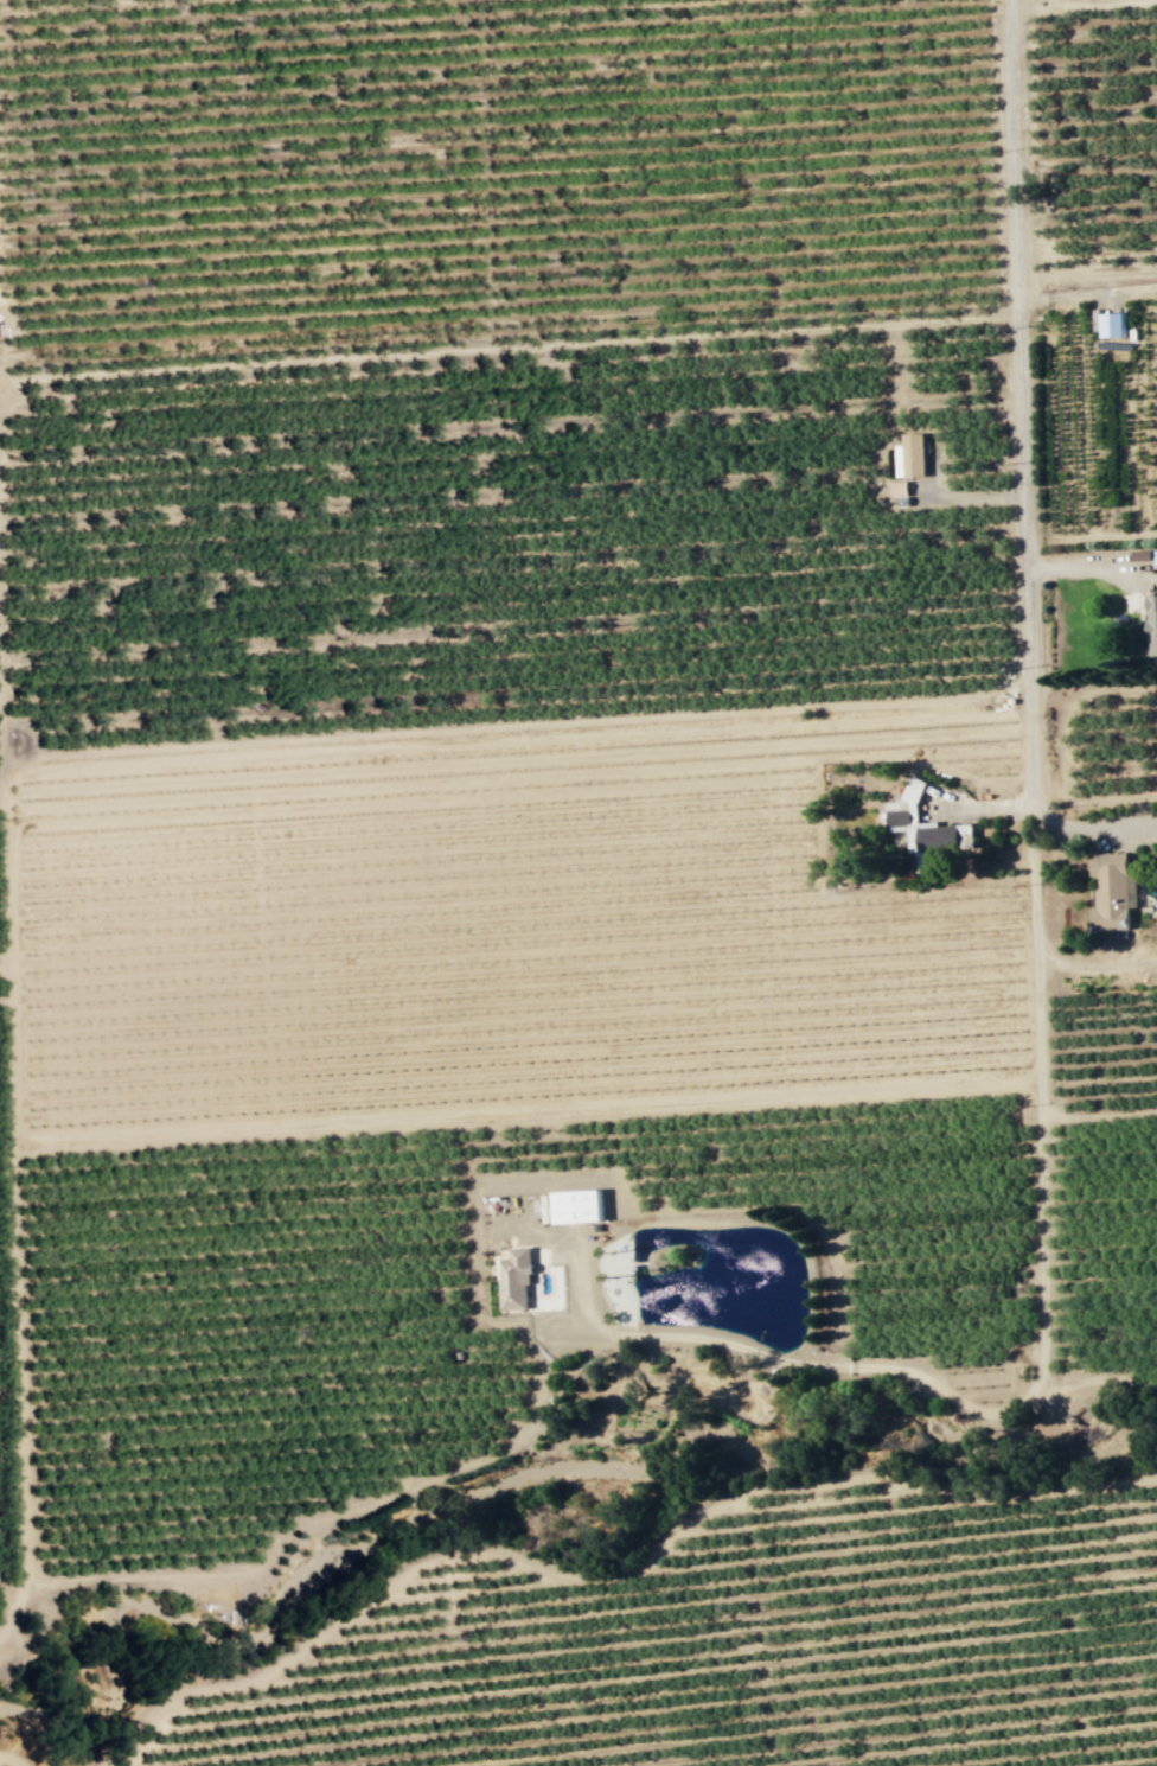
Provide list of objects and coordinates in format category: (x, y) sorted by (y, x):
road: (1084, 2)
building: (1110, 325)
road: (507, 348)
building: (907, 457)
road: (1088, 569)
building: (1150, 625)
road: (1029, 676)
road: (514, 725)
road: (1091, 802)
road: (978, 809)
building: (922, 824)
road: (1092, 828)
building: (1110, 891)
road: (1095, 967)
road: (1098, 1117)
road: (525, 1121)
road: (14, 1197)
building: (573, 1205)
building: (511, 1280)
road: (840, 1364)
road: (626, 1574)
road: (15, 1609)
road: (13, 1758)

